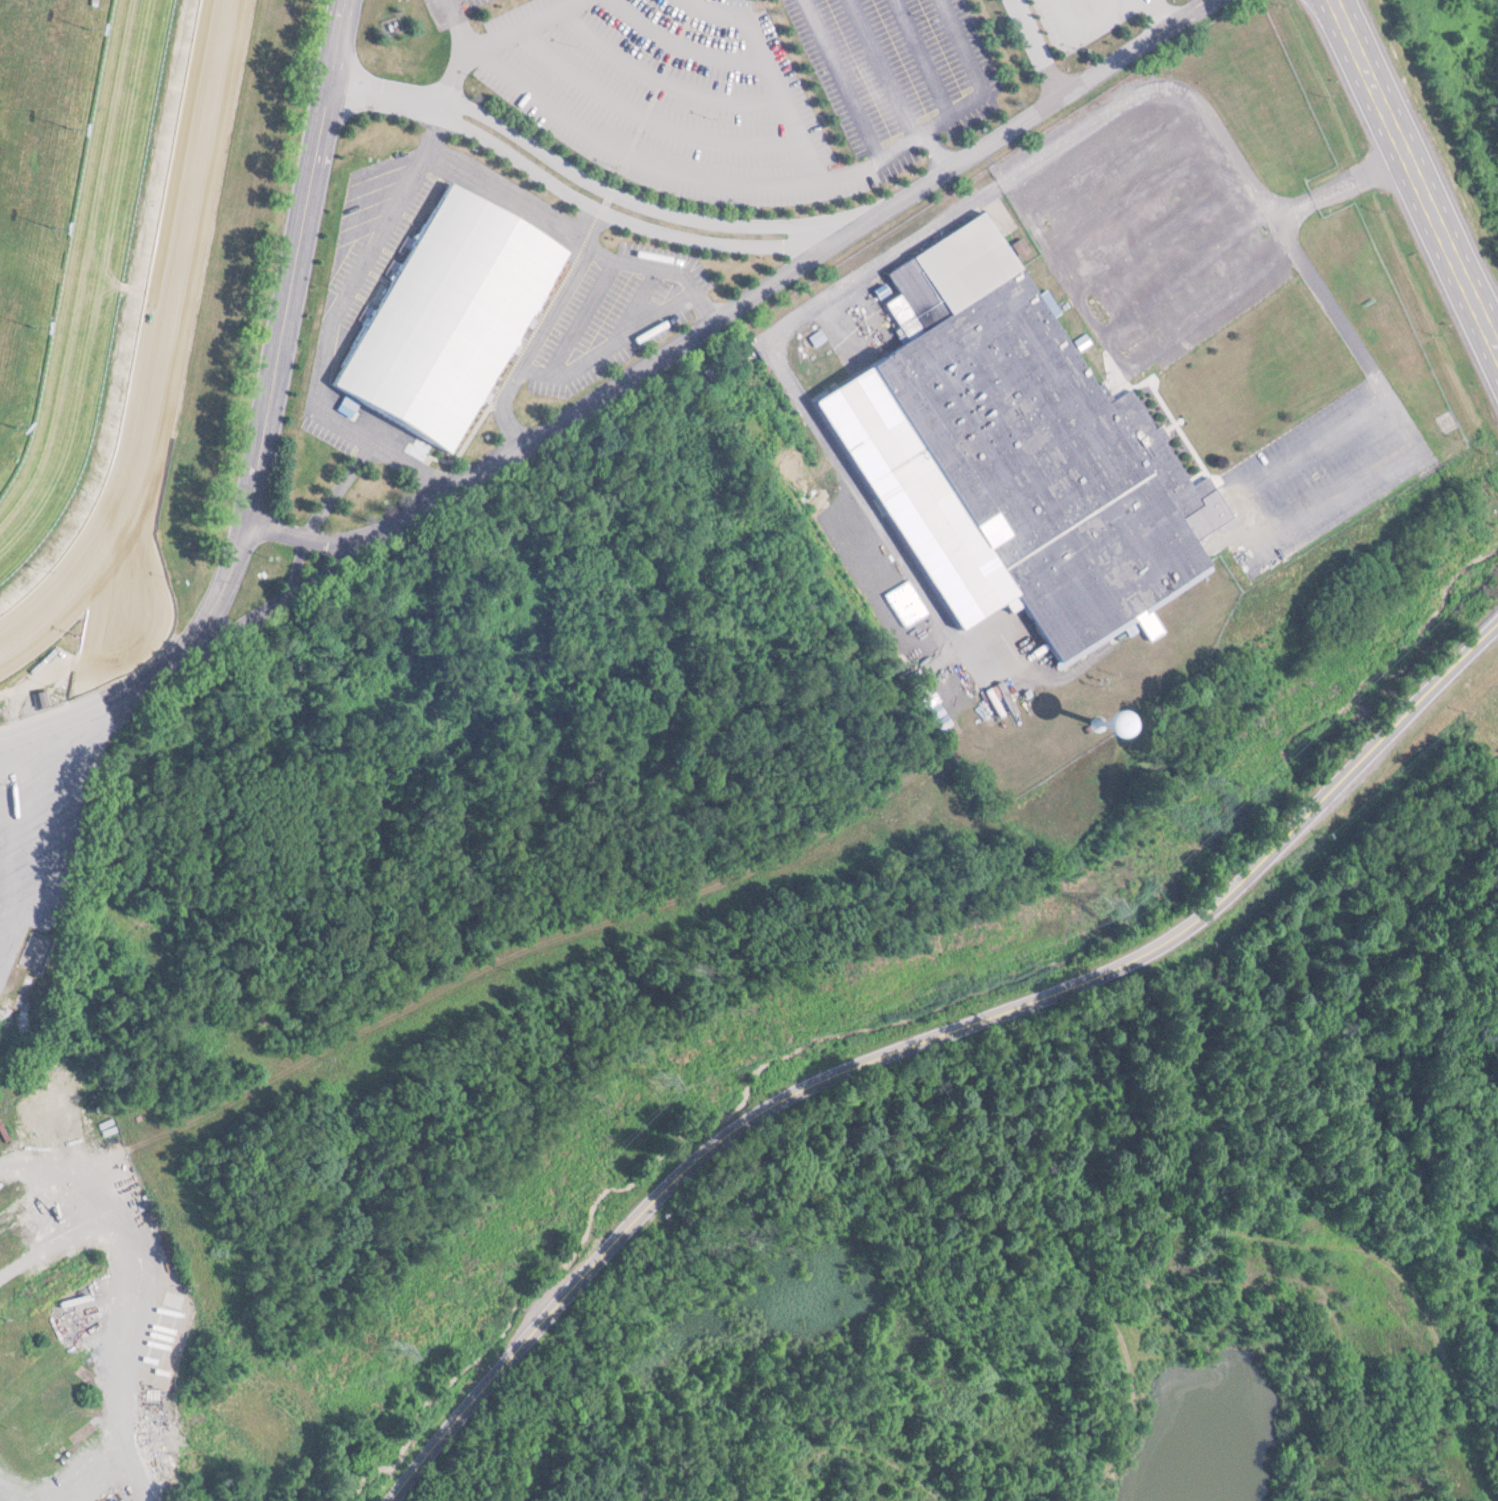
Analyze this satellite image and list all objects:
road: (1105, 5)
parking lot: (449, 6)
road: (1166, 14)
parking lot: (1076, 15)
road: (1088, 20)
road: (529, 24)
road: (963, 47)
road: (1039, 49)
road: (928, 57)
parking lot: (893, 60)
road: (885, 69)
road: (773, 70)
road: (452, 77)
road: (852, 77)
road: (1155, 83)
road: (374, 92)
parking lot: (662, 92)
road: (935, 155)
road: (1107, 157)
road: (694, 177)
road: (1406, 191)
road: (1130, 192)
road: (634, 199)
parking lot: (1147, 222)
road: (635, 225)
road: (1156, 230)
road: (1282, 256)
track: (85, 262)
road: (1197, 266)
road: (743, 305)
building: (446, 319)
road: (283, 344)
road: (1365, 357)
road: (791, 375)
building: (1026, 449)
road: (1289, 452)
parking lot: (1313, 464)
road: (105, 666)
road: (88, 712)
road: (928, 1041)
road: (1201, 1217)
road: (147, 1283)
road: (872, 1448)
building: (108, 1497)
building: (127, 1500)

